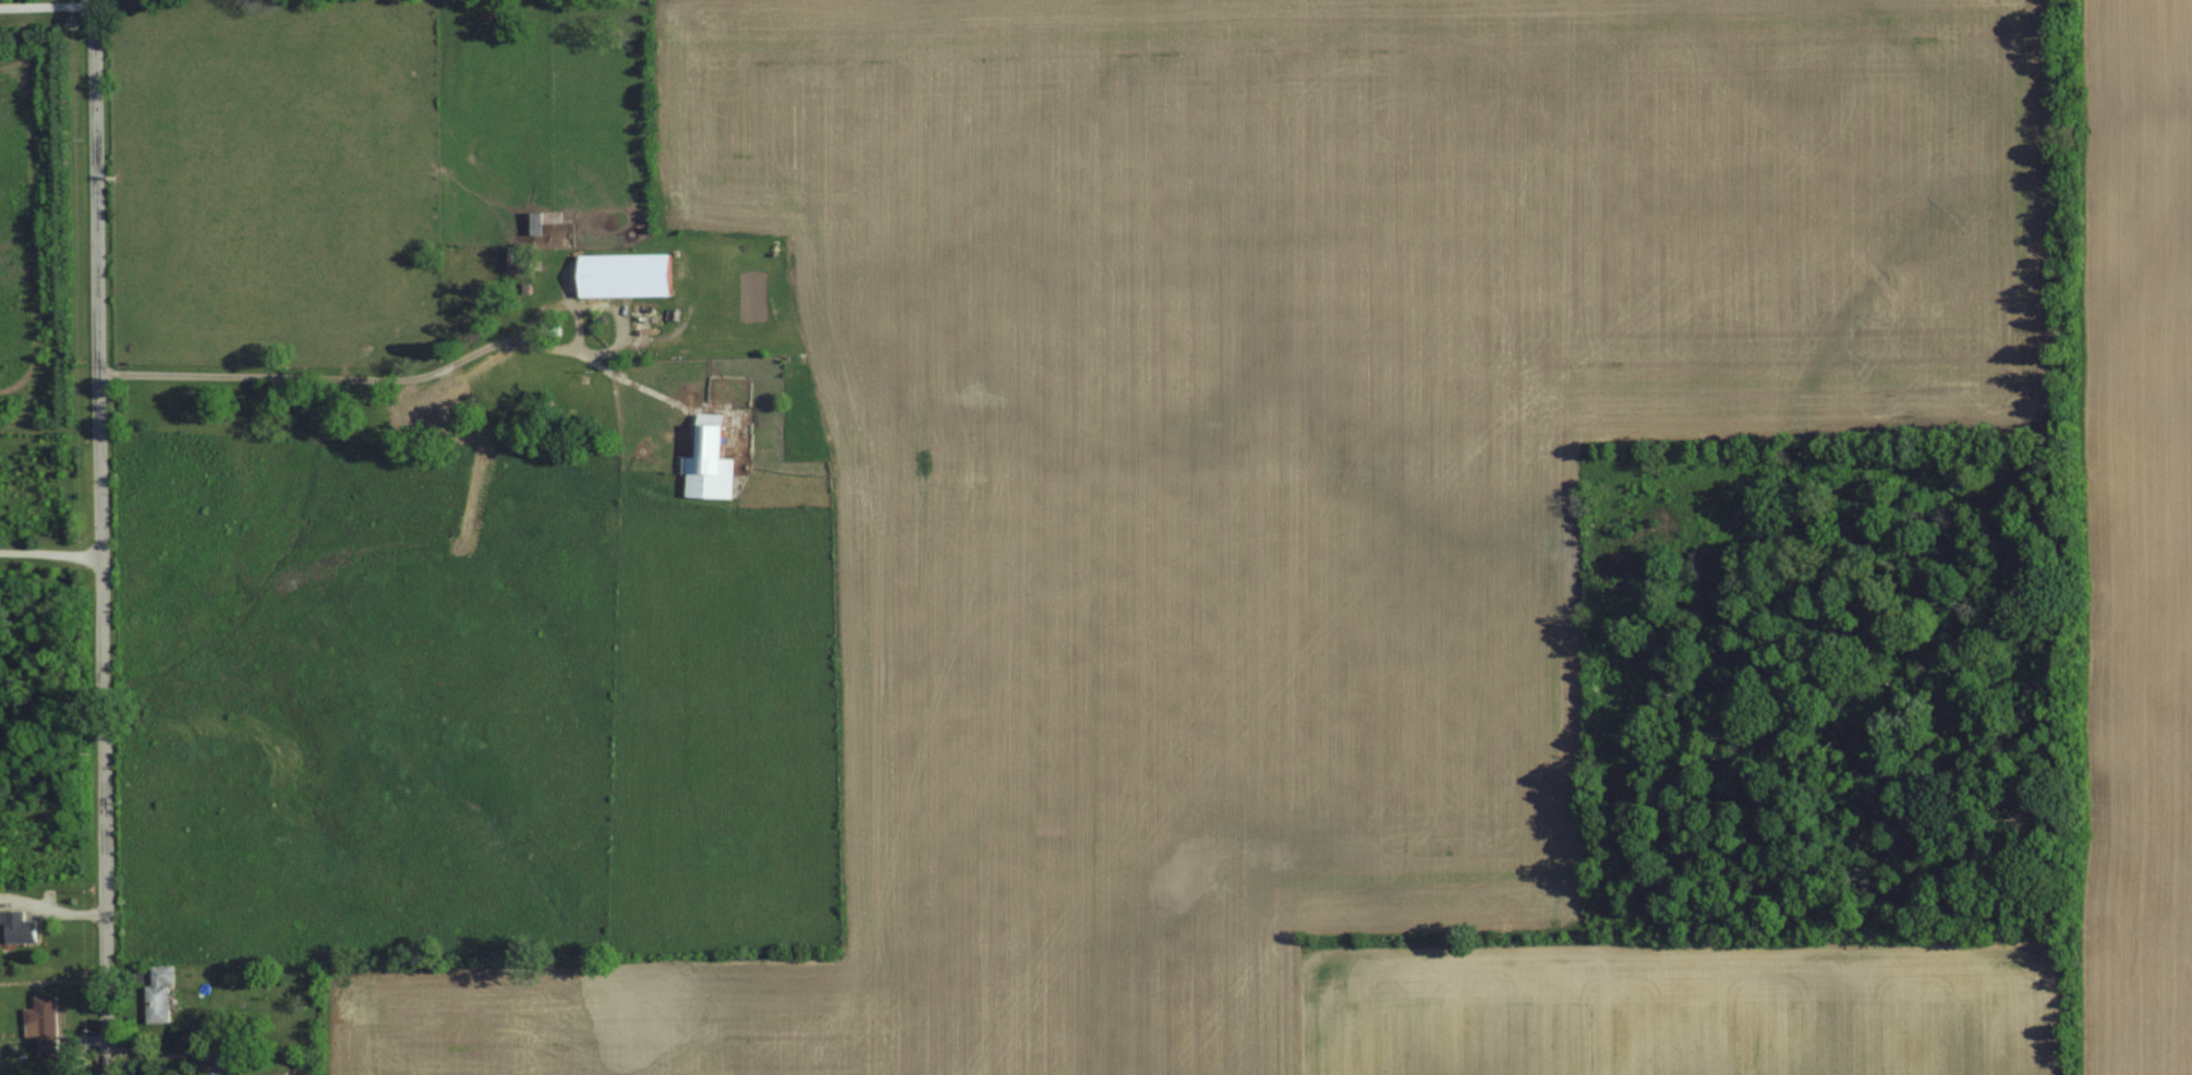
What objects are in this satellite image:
road: (46, 5)
building: (631, 274)
road: (398, 378)
building: (714, 460)
road: (100, 536)
road: (50, 553)
building: (23, 927)
building: (162, 993)
building: (46, 1024)

